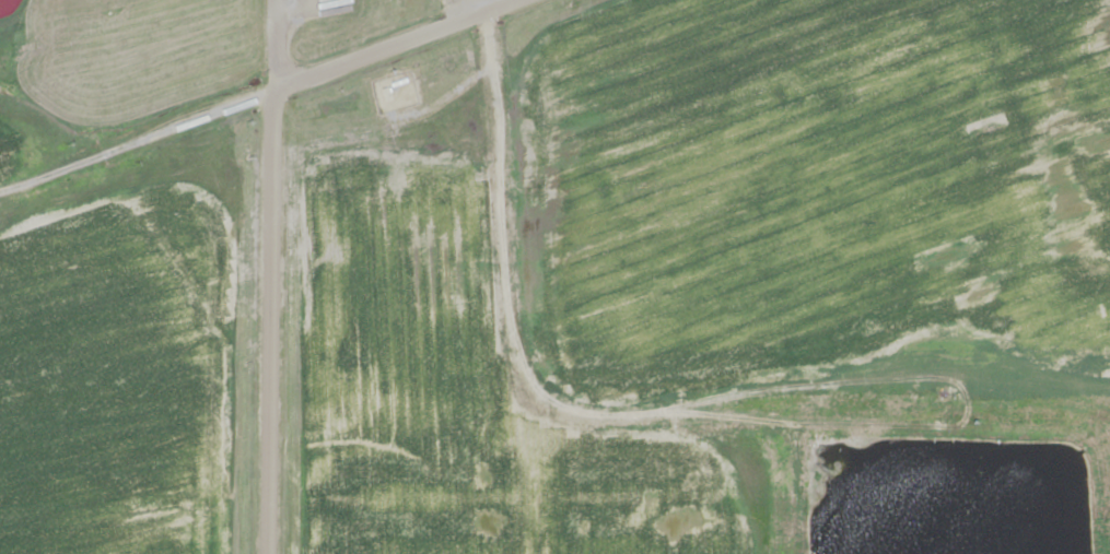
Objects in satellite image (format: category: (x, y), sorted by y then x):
road: (215, 93)
road: (268, 314)

